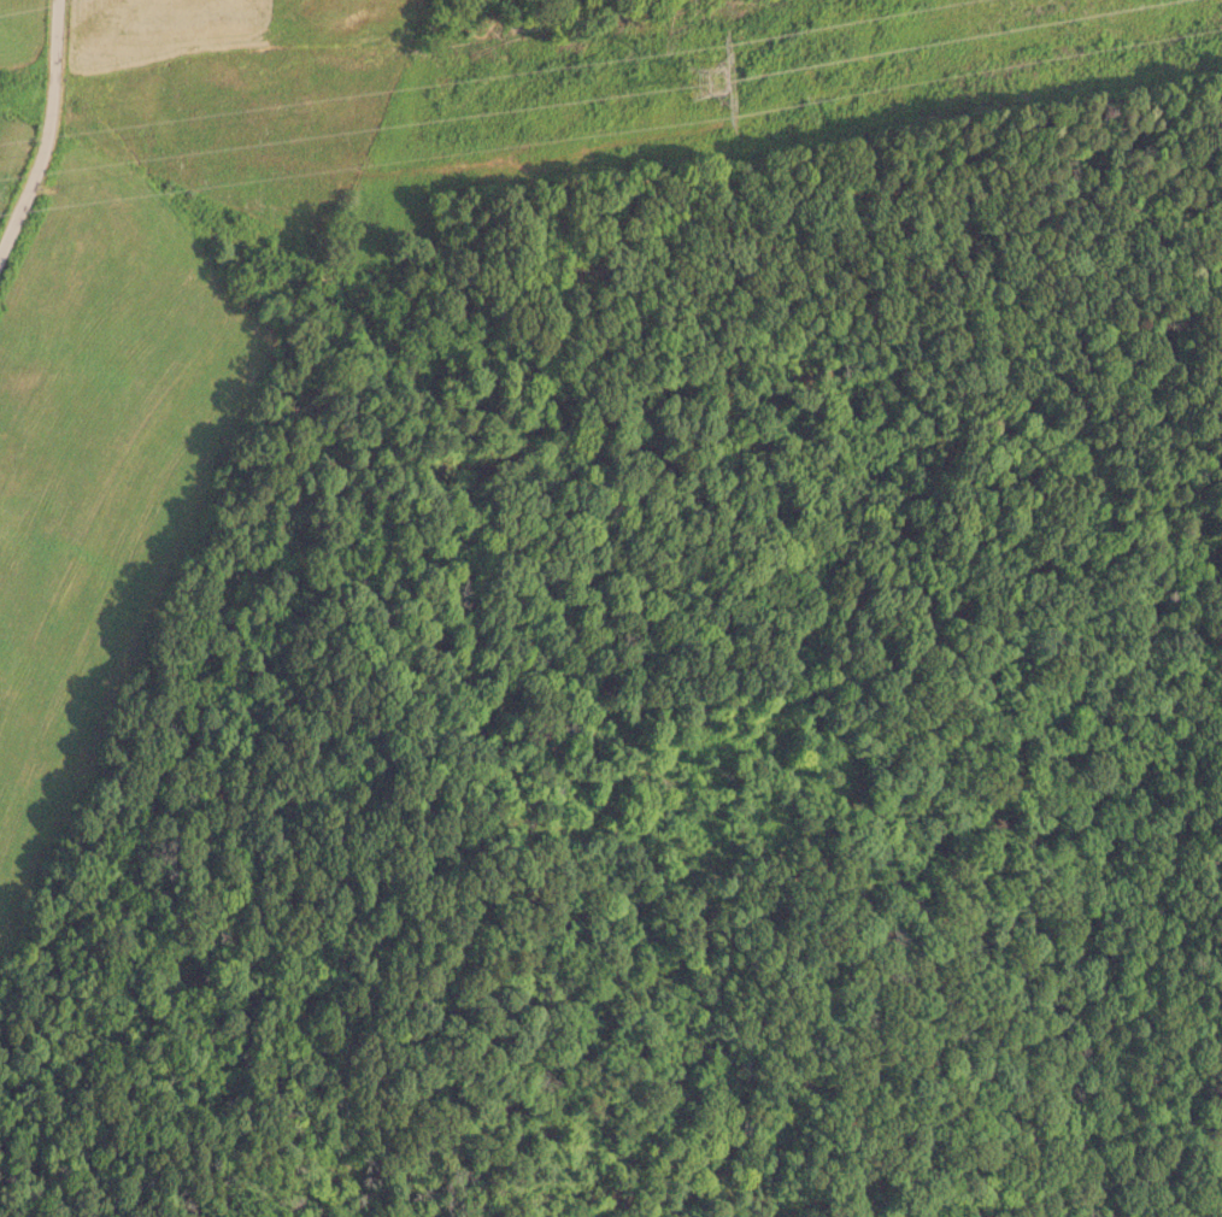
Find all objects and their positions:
power tower: (730, 100)
road: (40, 123)

